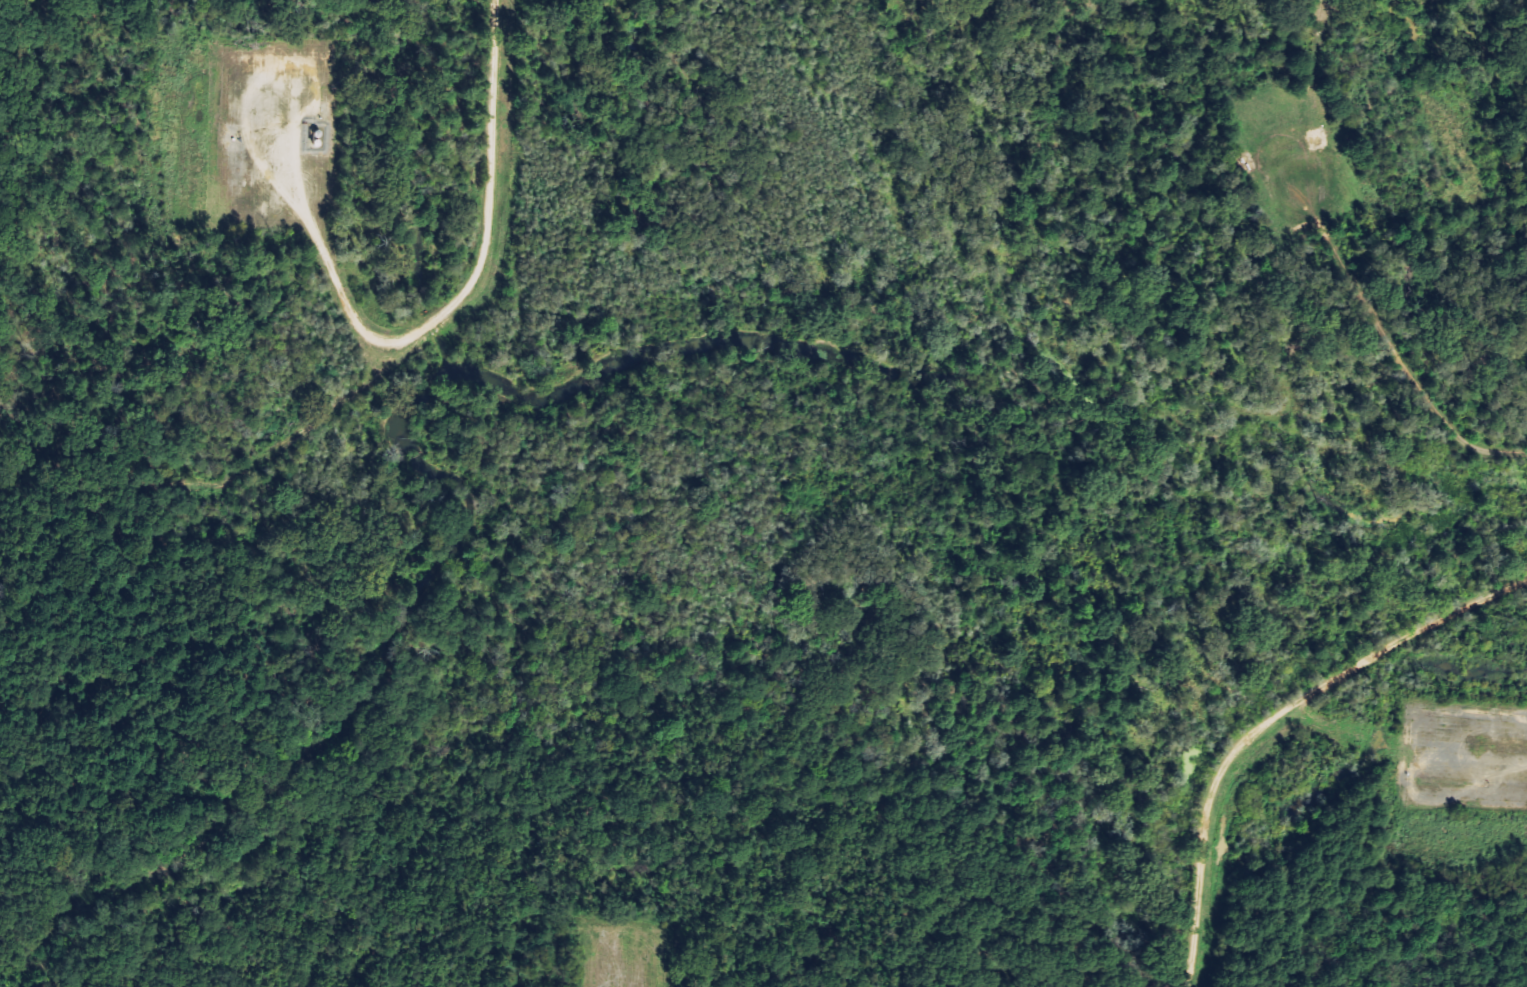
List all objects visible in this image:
road: (1269, 717)

